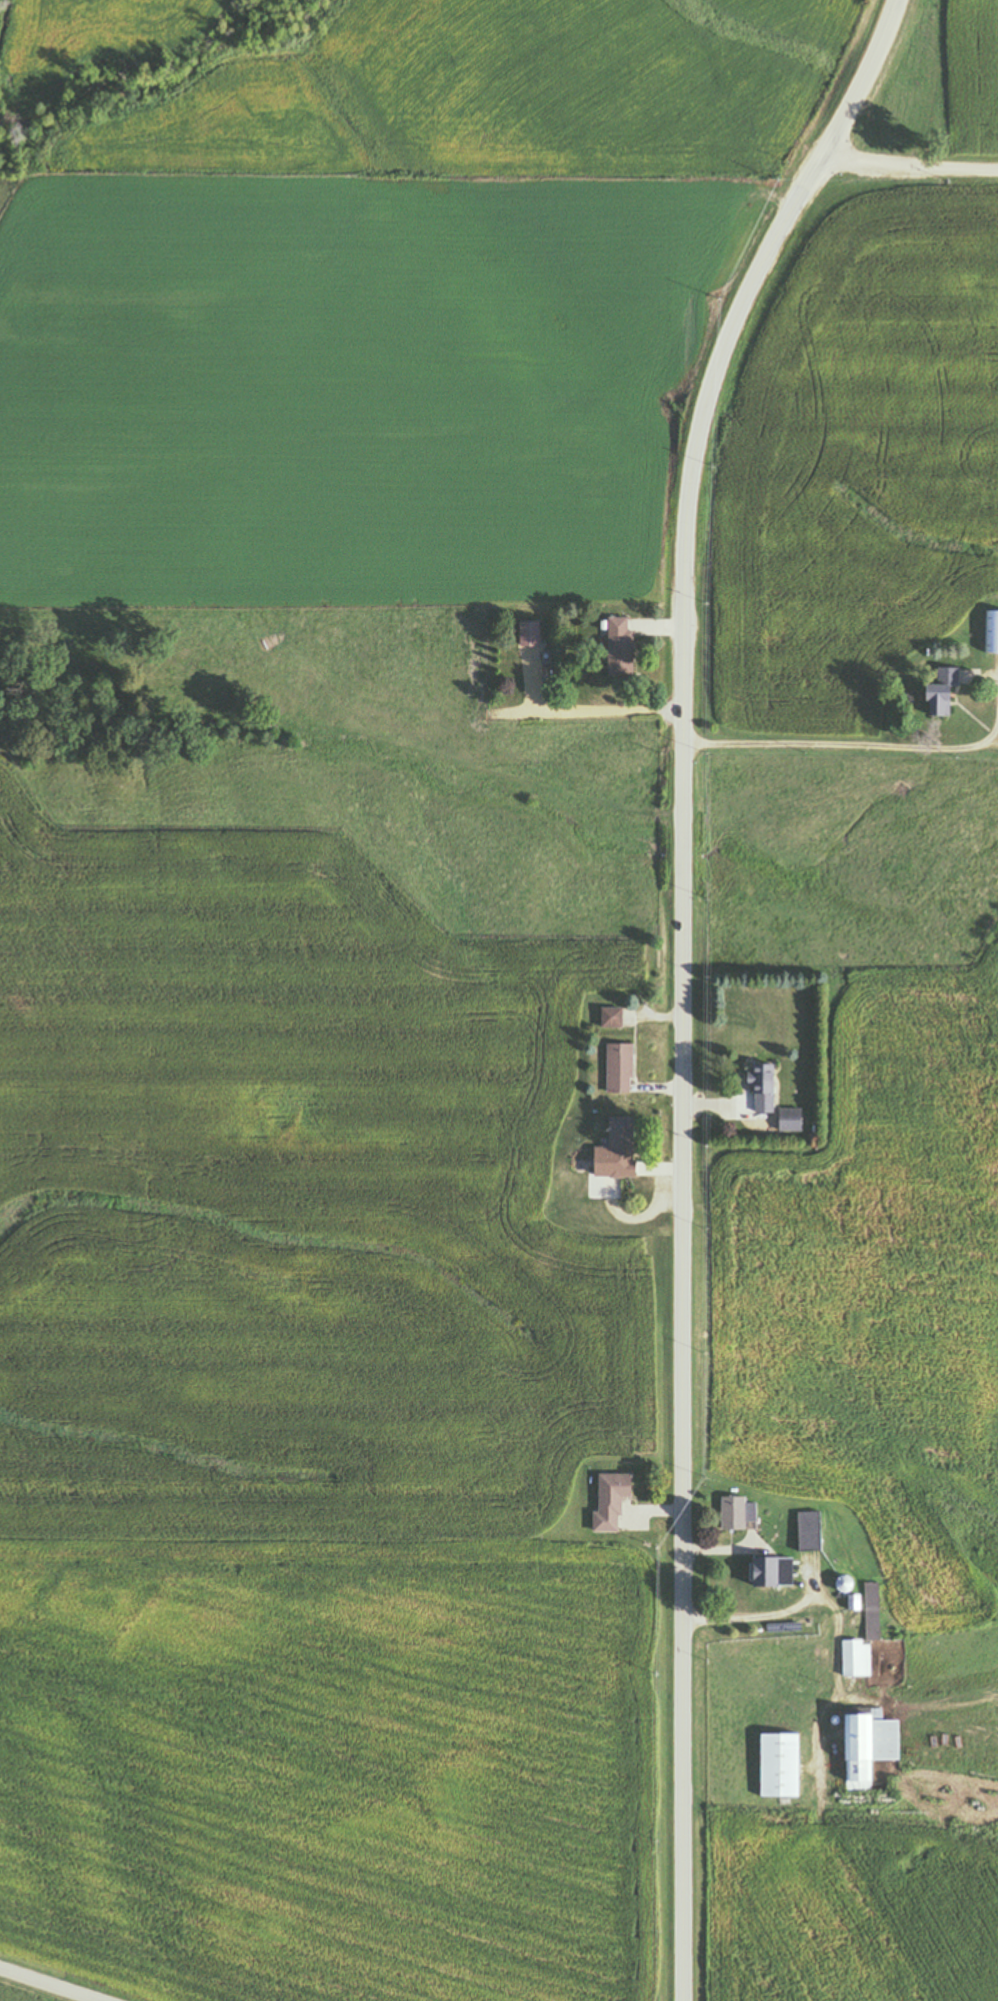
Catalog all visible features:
road: (874, 42)
road: (907, 171)
building: (989, 633)
building: (534, 634)
building: (625, 649)
building: (934, 694)
road: (868, 745)
building: (606, 1018)
road: (684, 1022)
building: (611, 1070)
building: (759, 1089)
building: (785, 1121)
building: (614, 1143)
building: (603, 1503)
building: (730, 1514)
building: (803, 1532)
building: (752, 1573)
building: (849, 1602)
building: (866, 1612)
building: (861, 1748)
building: (775, 1765)
road: (39, 1988)

